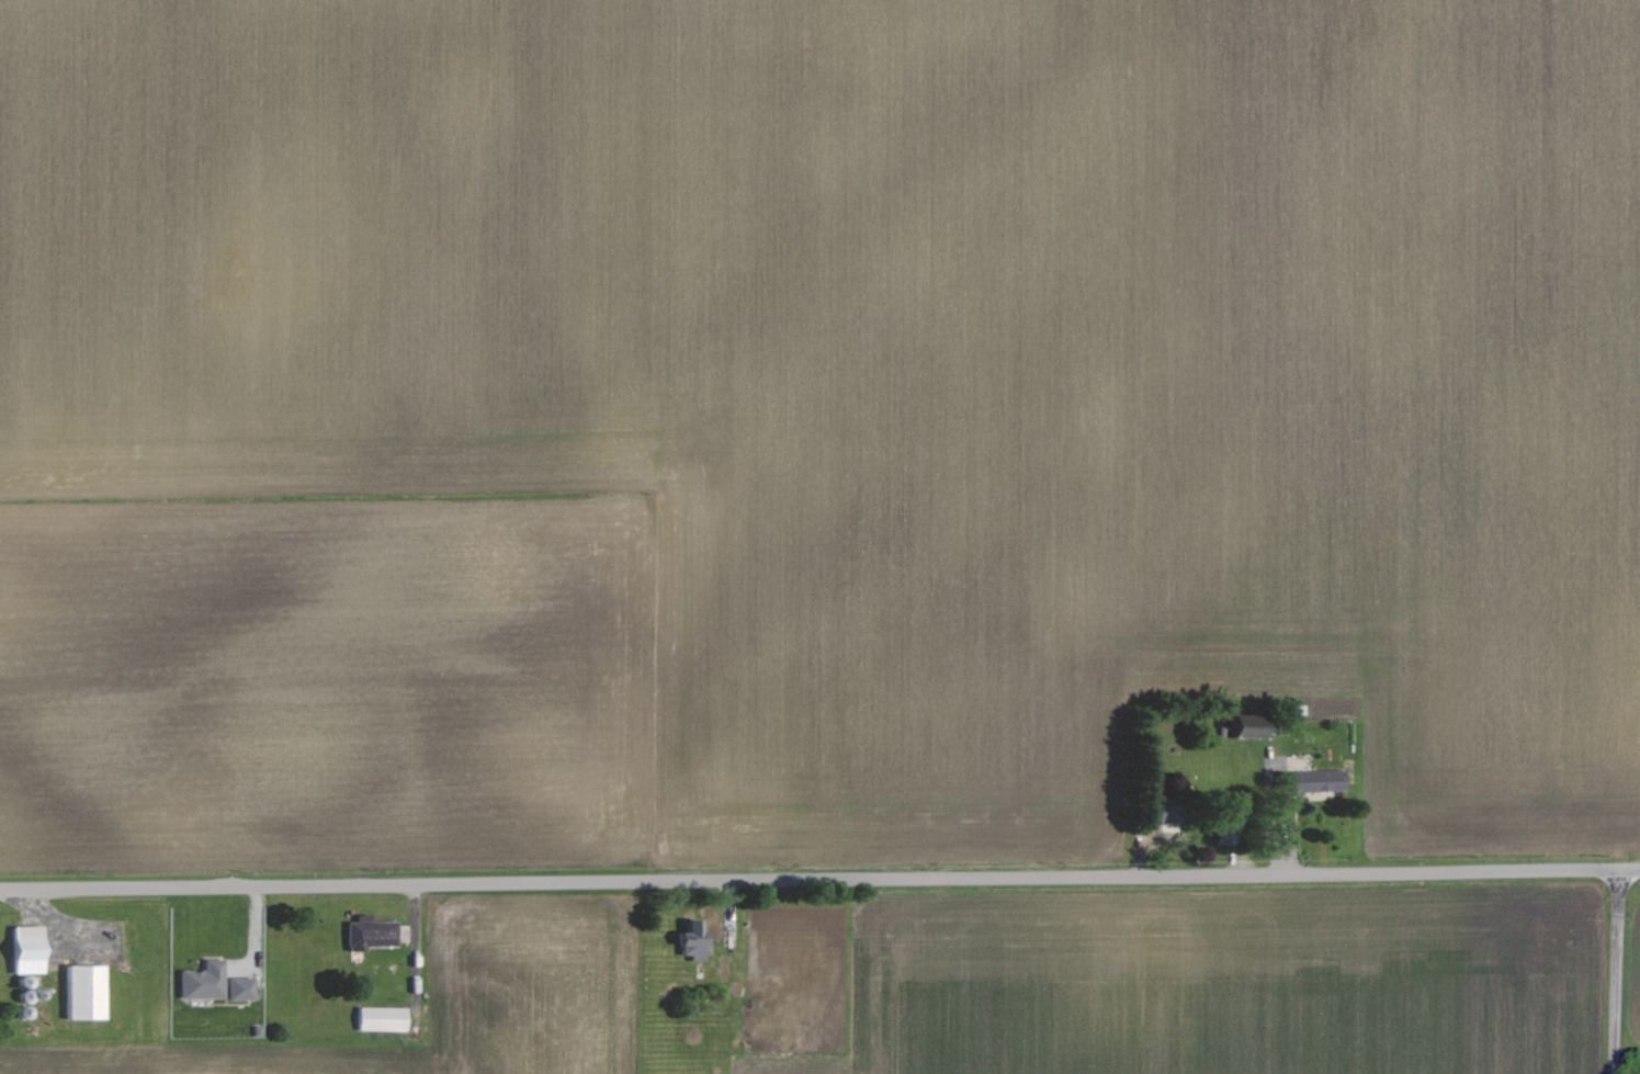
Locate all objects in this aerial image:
building: (1251, 725)
building: (1320, 780)
building: (1170, 813)
road: (819, 880)
building: (372, 932)
building: (694, 940)
building: (29, 949)
road: (1621, 972)
building: (204, 980)
building: (241, 987)
building: (88, 992)
building: (383, 1018)

